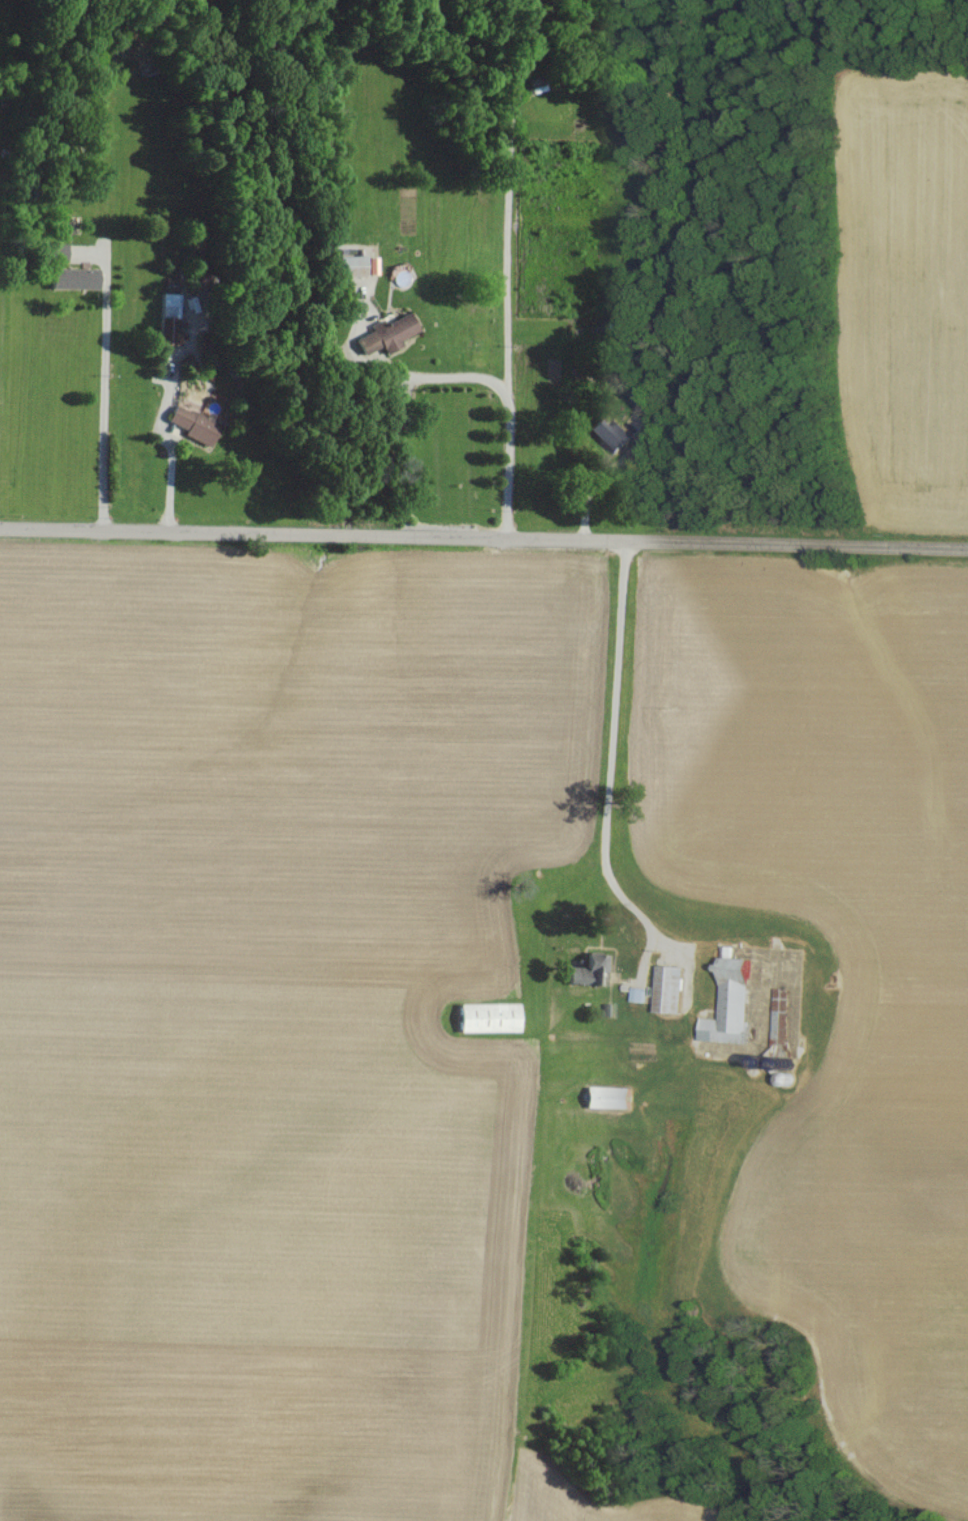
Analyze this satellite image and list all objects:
building: (53, 251)
building: (68, 277)
building: (383, 333)
road: (100, 396)
road: (507, 397)
building: (189, 423)
building: (607, 433)
road: (170, 477)
road: (594, 485)
road: (483, 540)
road: (612, 758)
building: (587, 967)
building: (666, 987)
building: (726, 1001)
building: (483, 1015)
building: (603, 1095)

